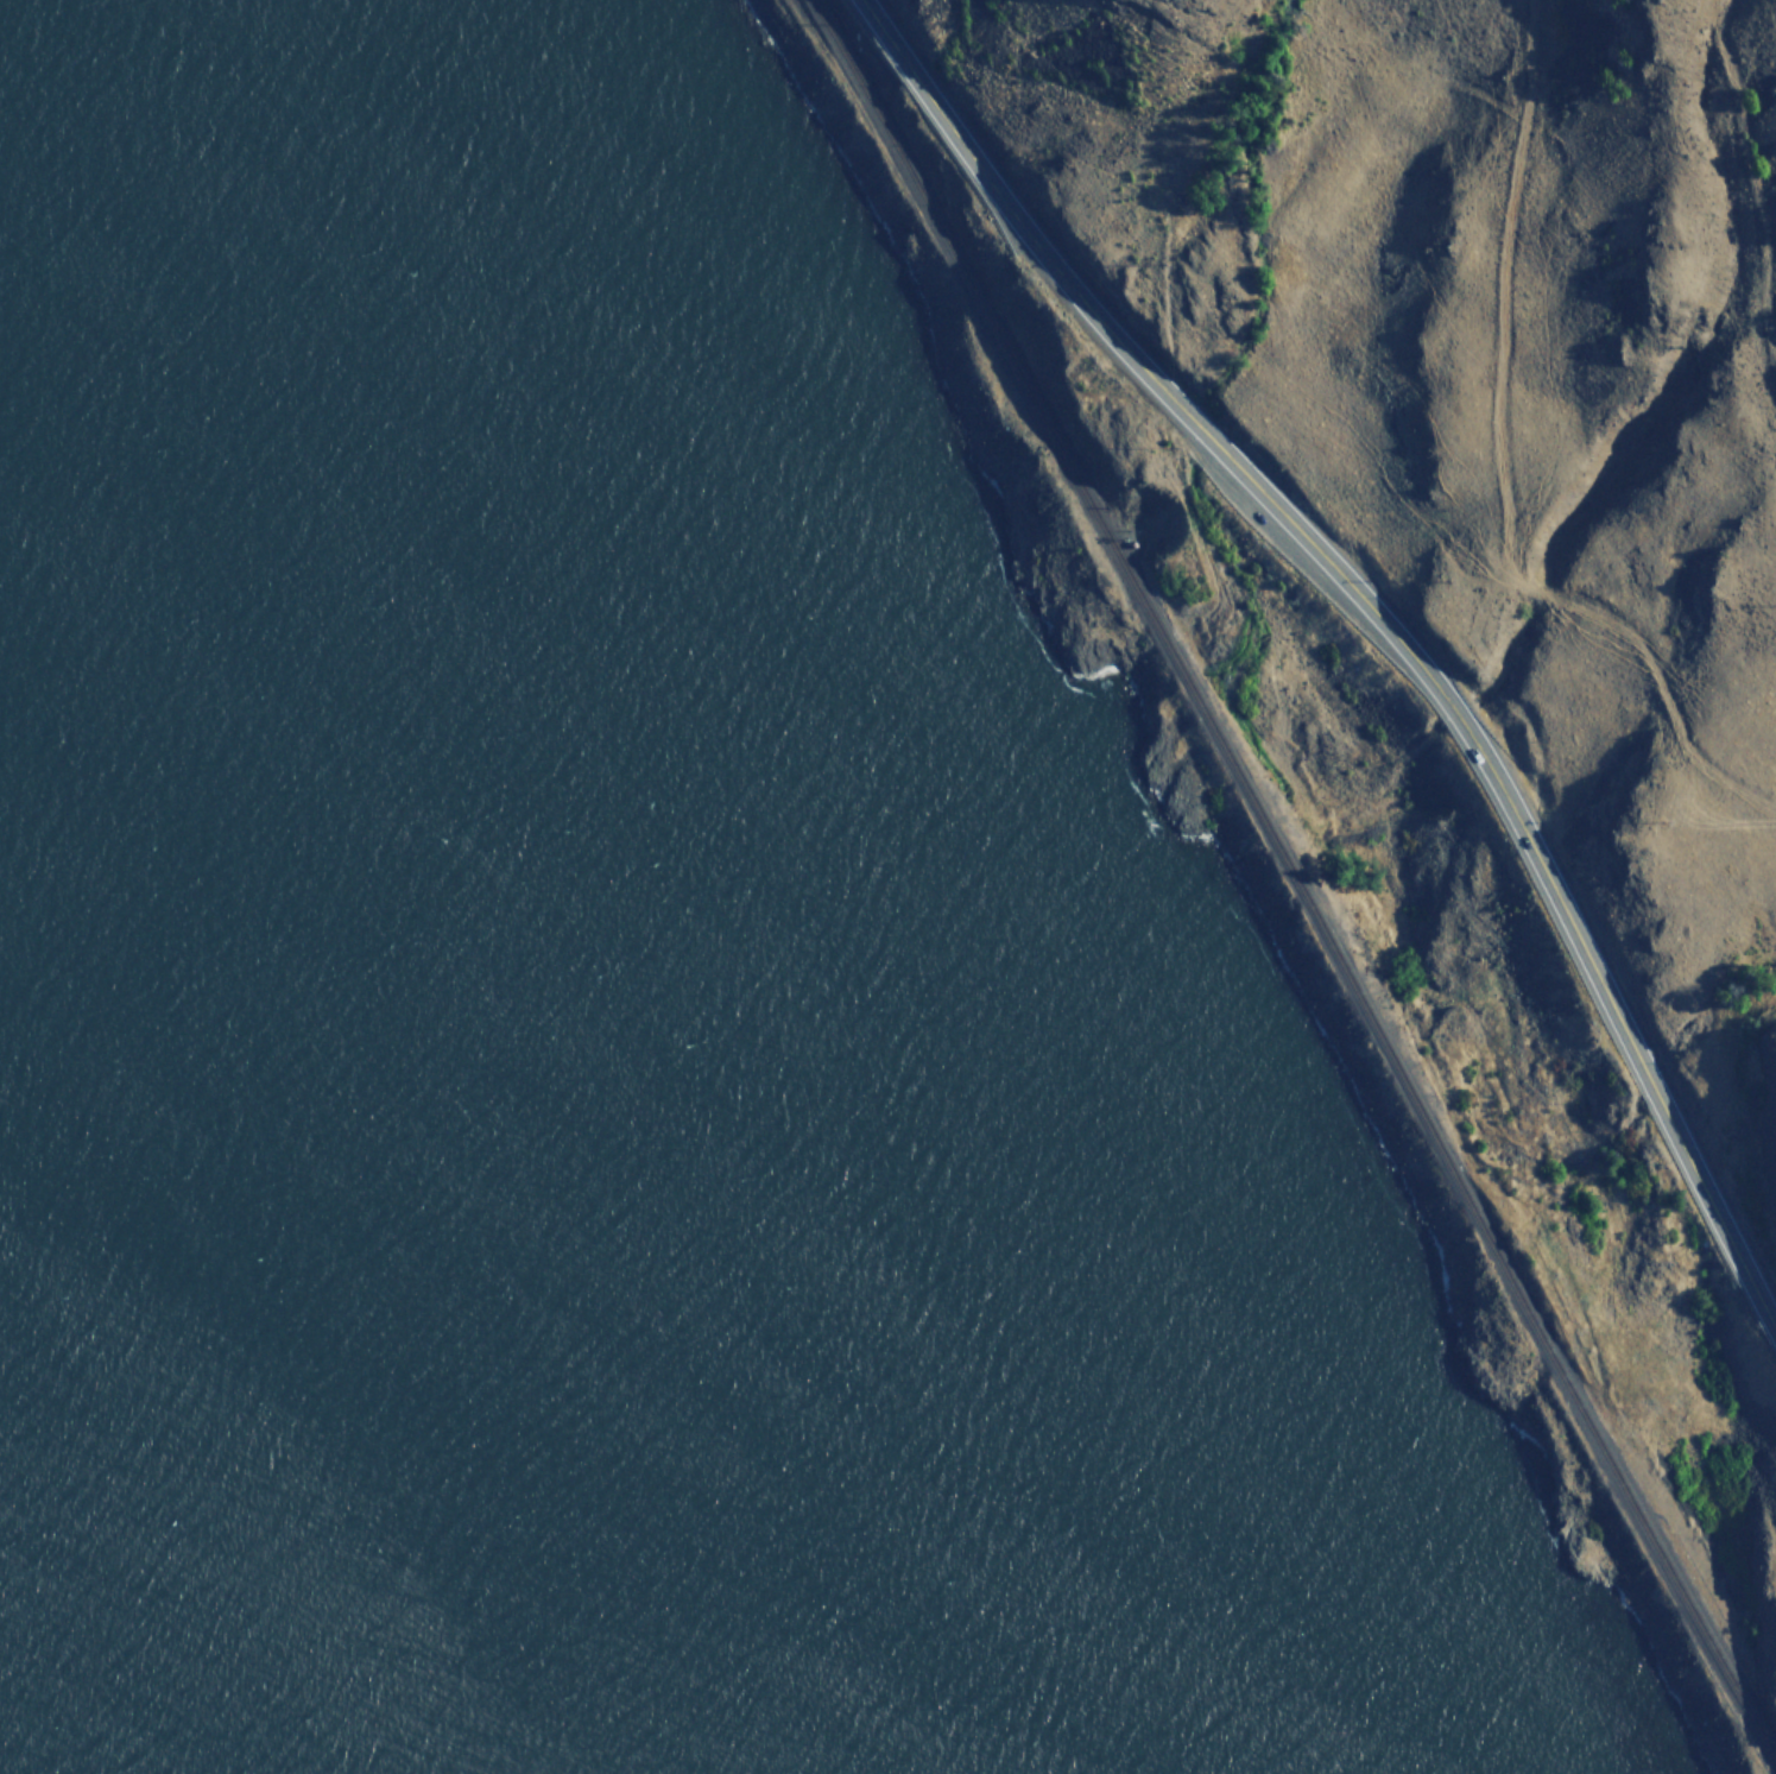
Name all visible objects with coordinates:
road: (1386, 623)
railway: (1290, 870)
river: (63, 1637)

